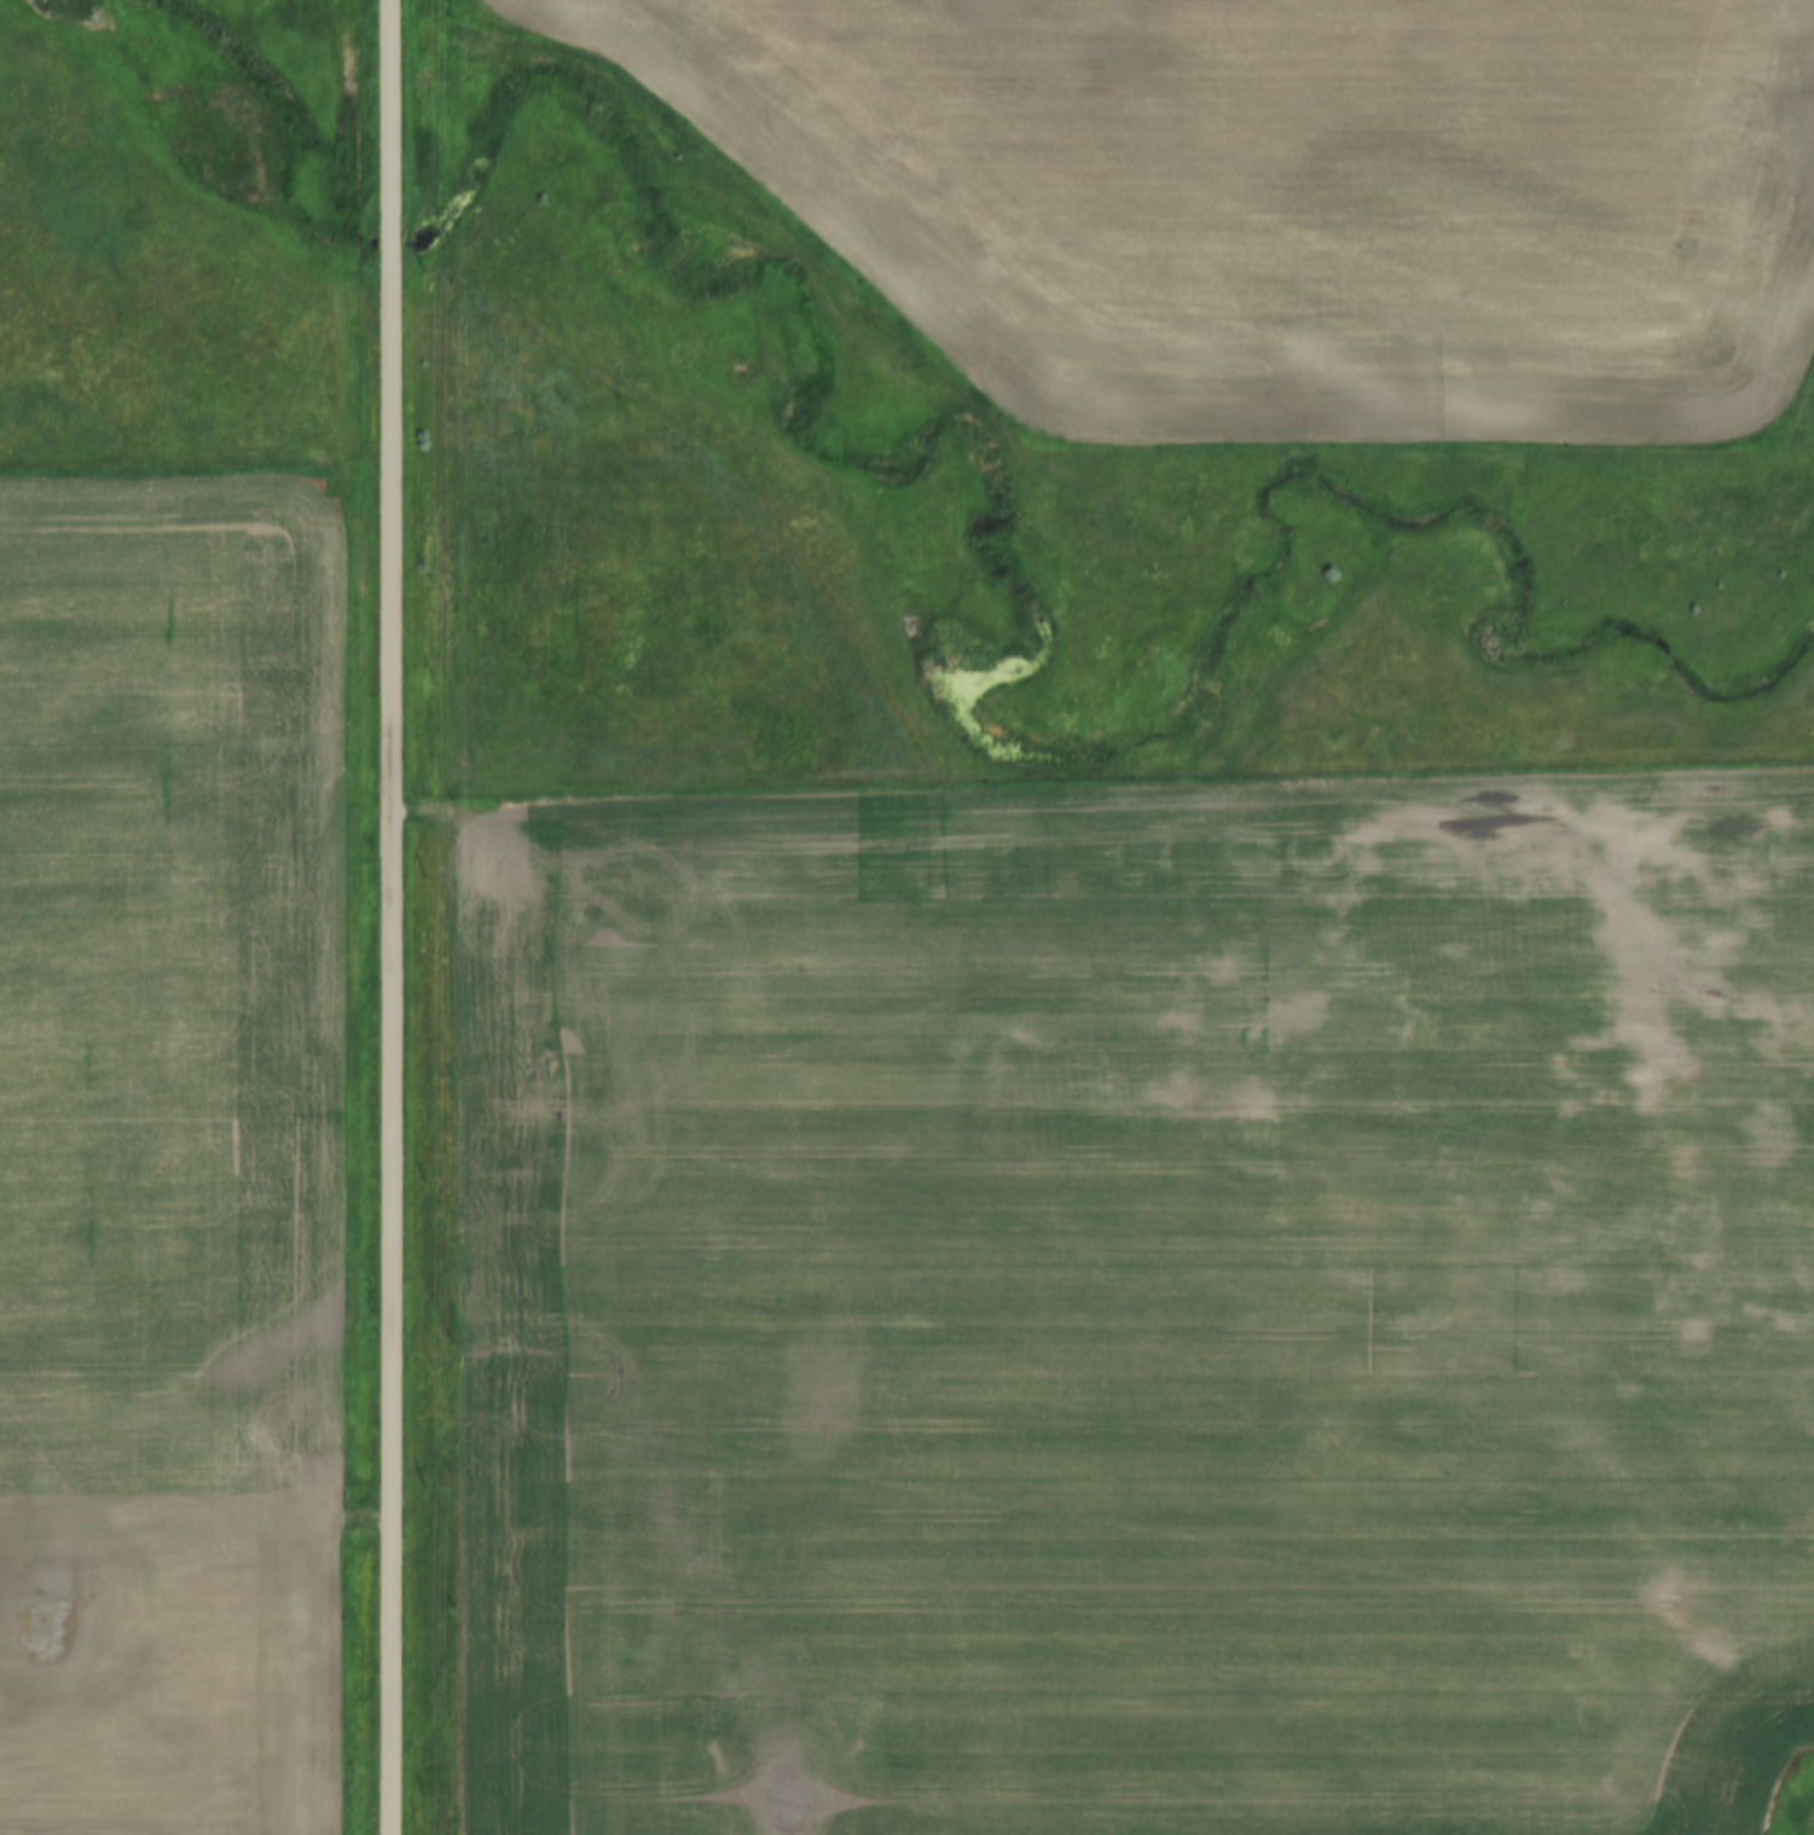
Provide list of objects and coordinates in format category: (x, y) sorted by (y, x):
road: (392, 916)

